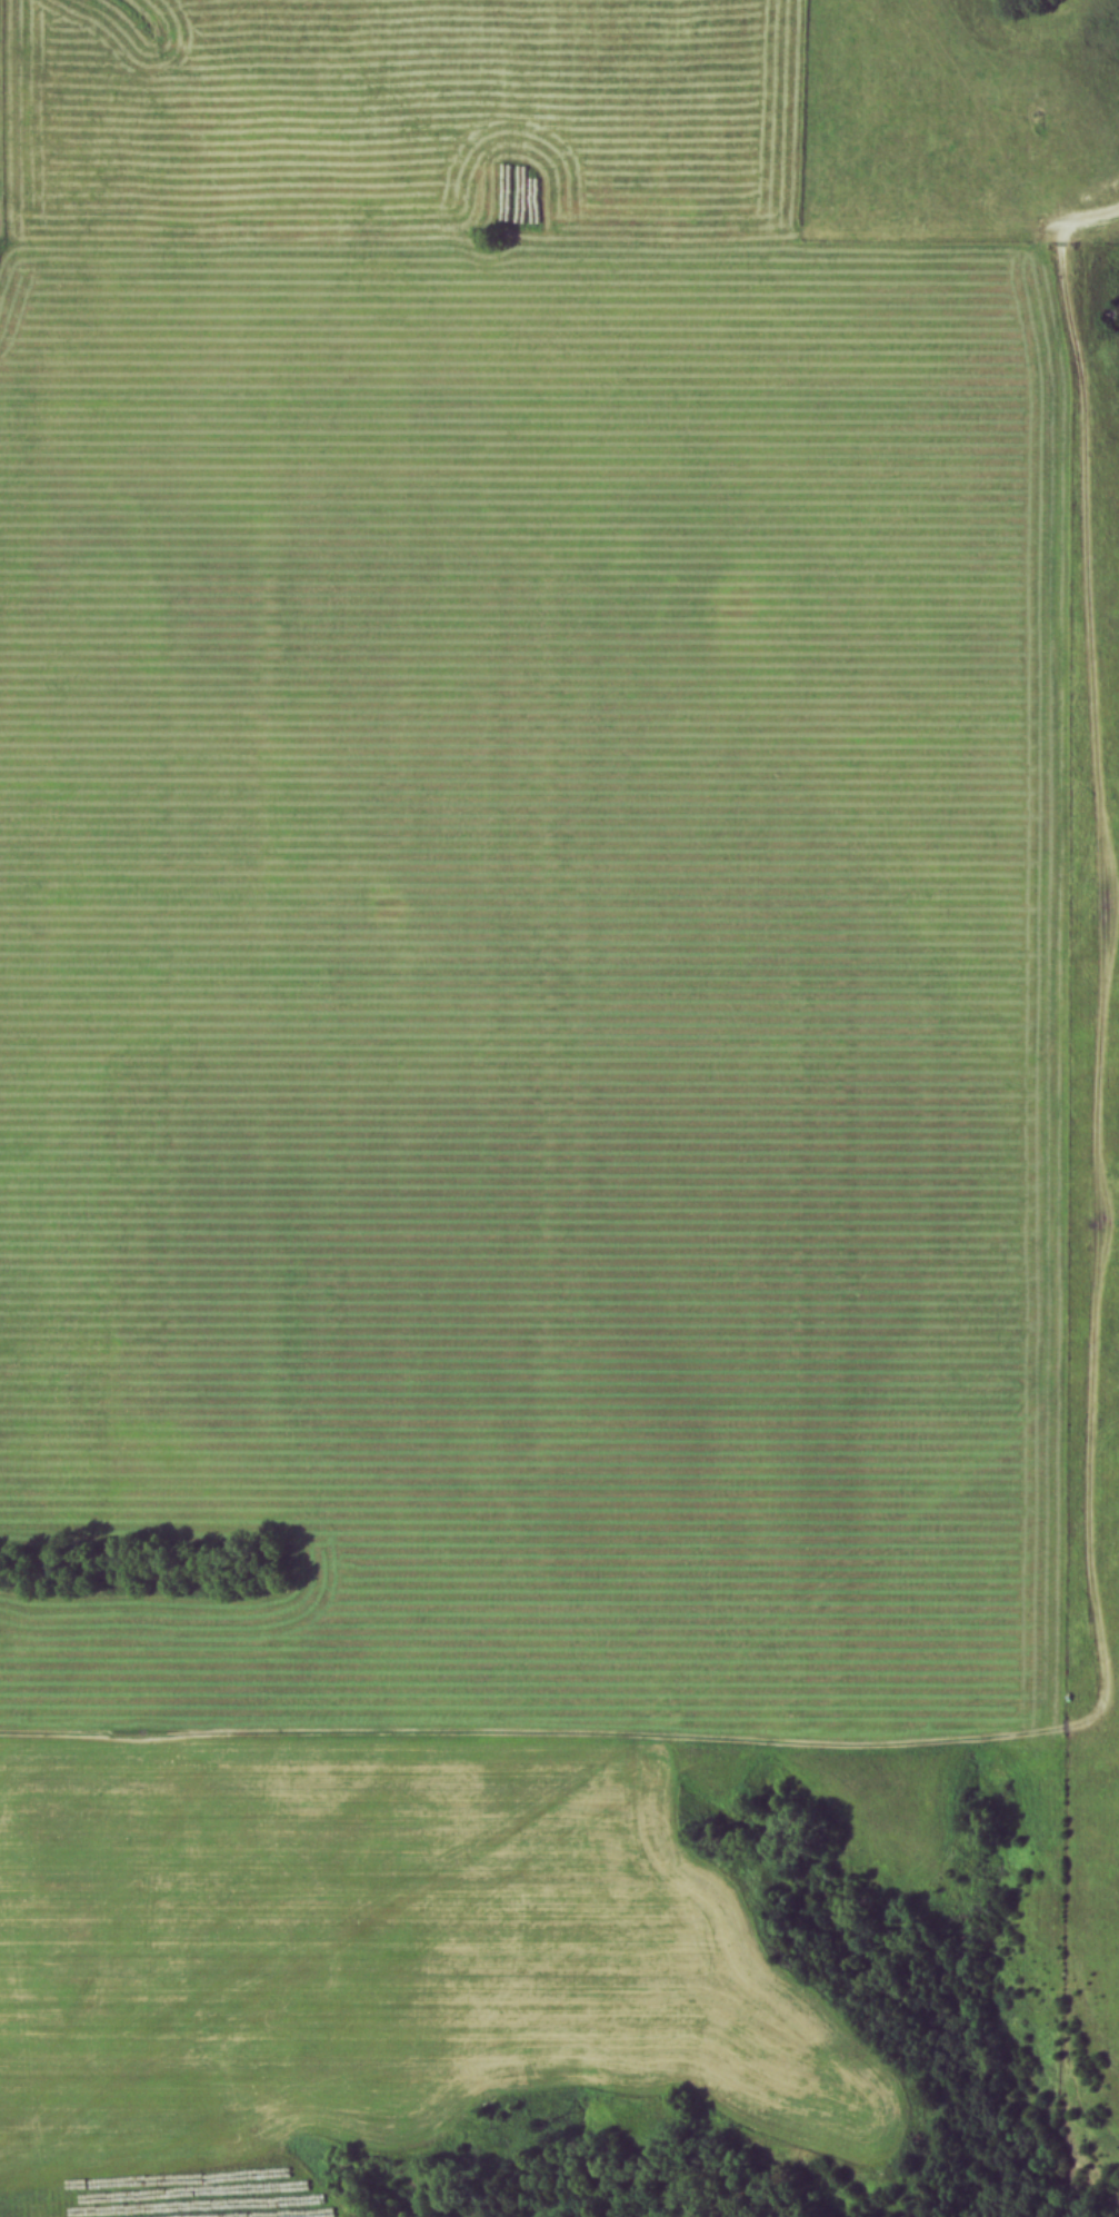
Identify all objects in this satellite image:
road: (1091, 221)

